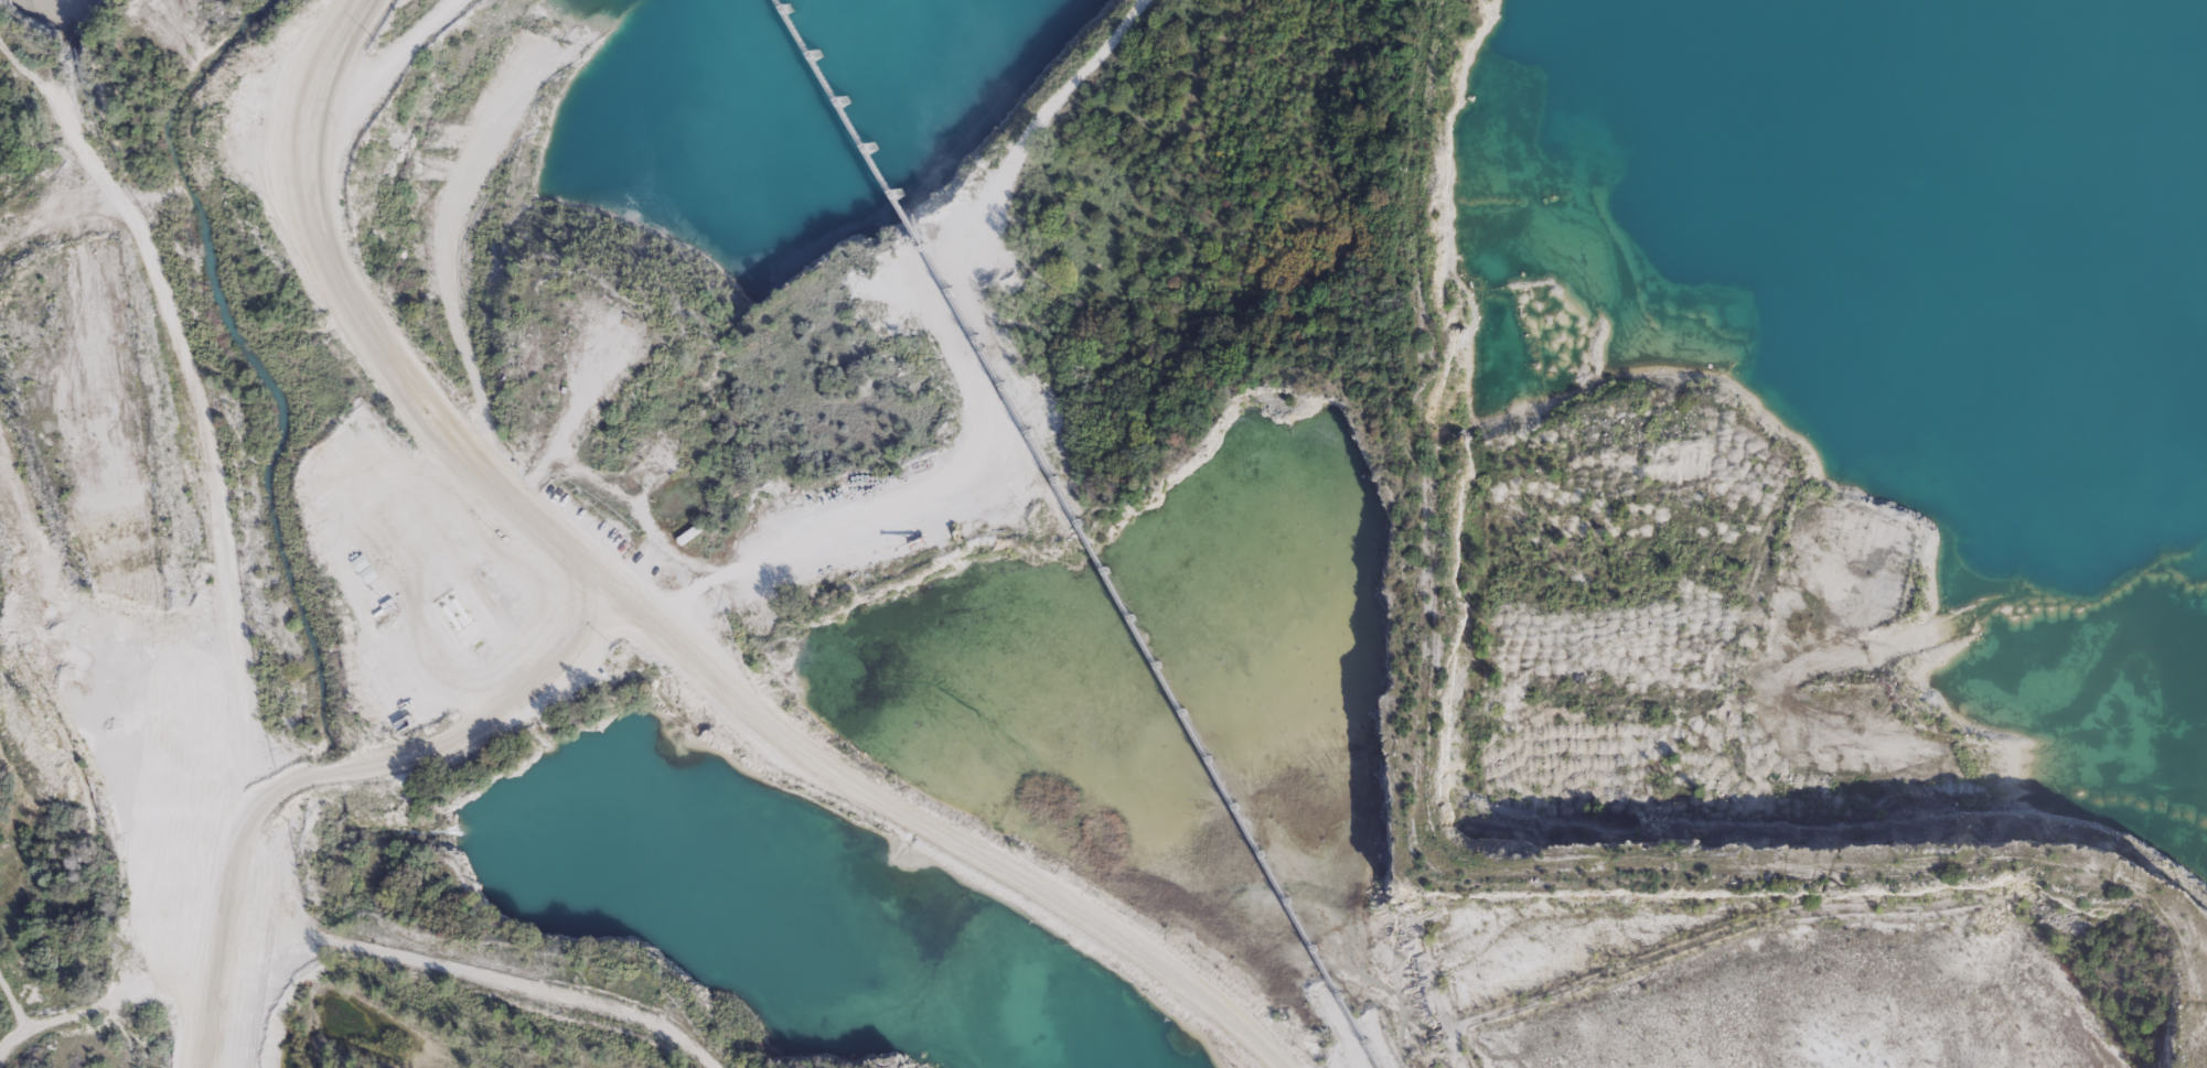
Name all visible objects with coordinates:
road: (193, 392)
building: (694, 531)
building: (366, 568)
quarry: (1756, 623)
road: (647, 625)
road: (321, 762)
quarry: (1338, 820)
road: (13, 1003)
road: (93, 1005)

